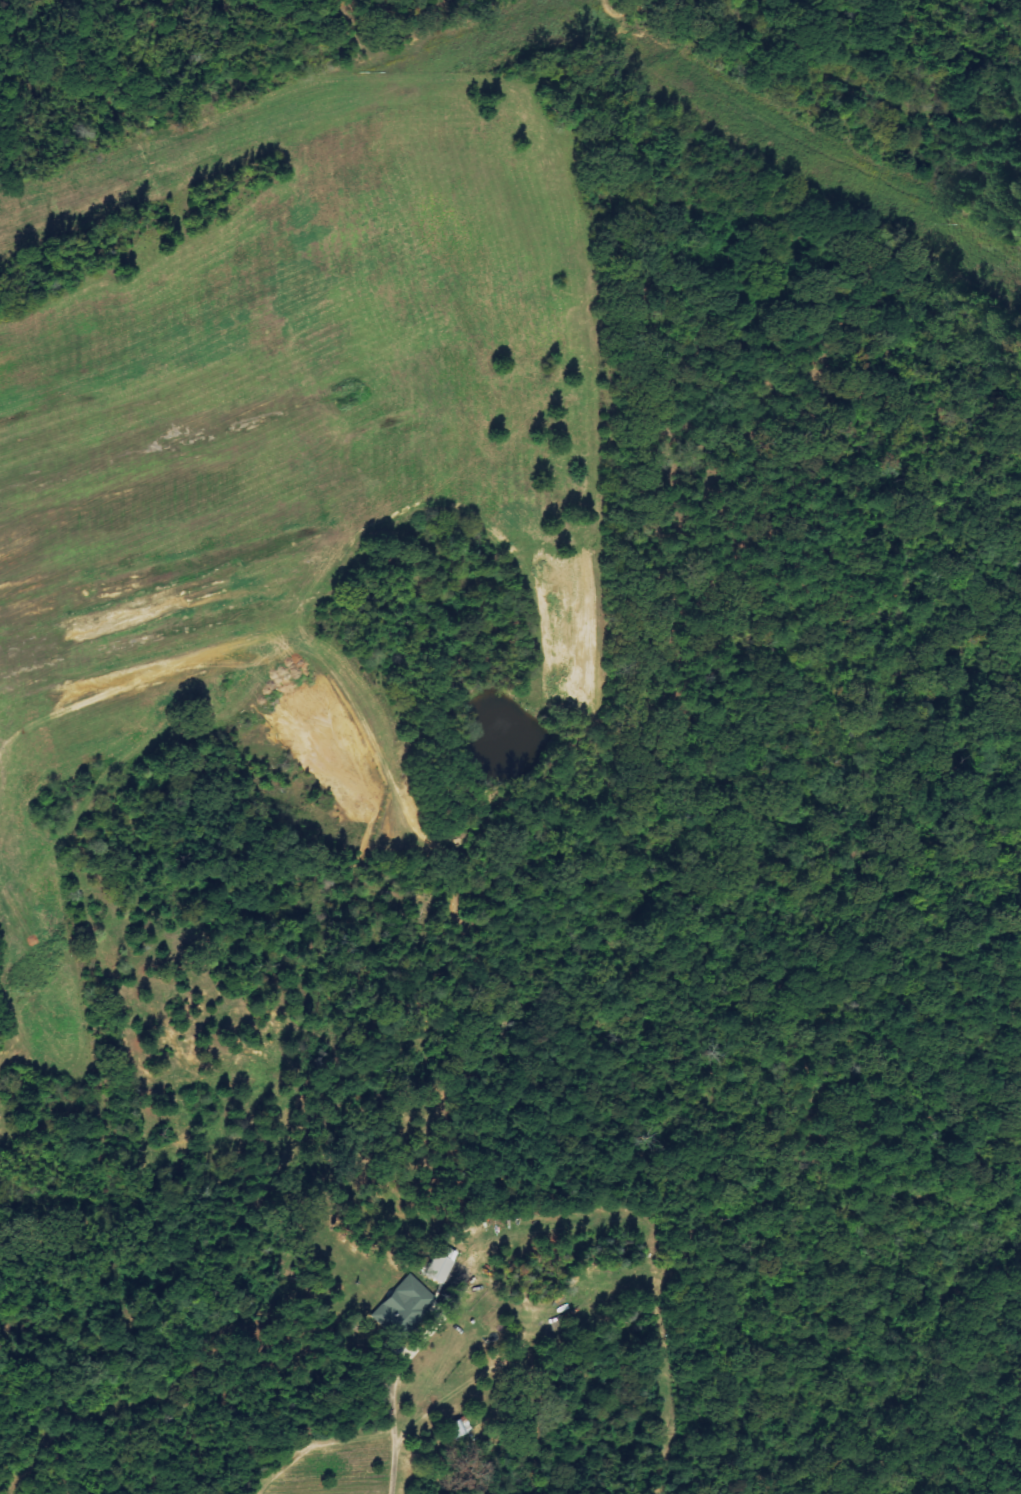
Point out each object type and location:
building: (442, 1265)
building: (403, 1303)

